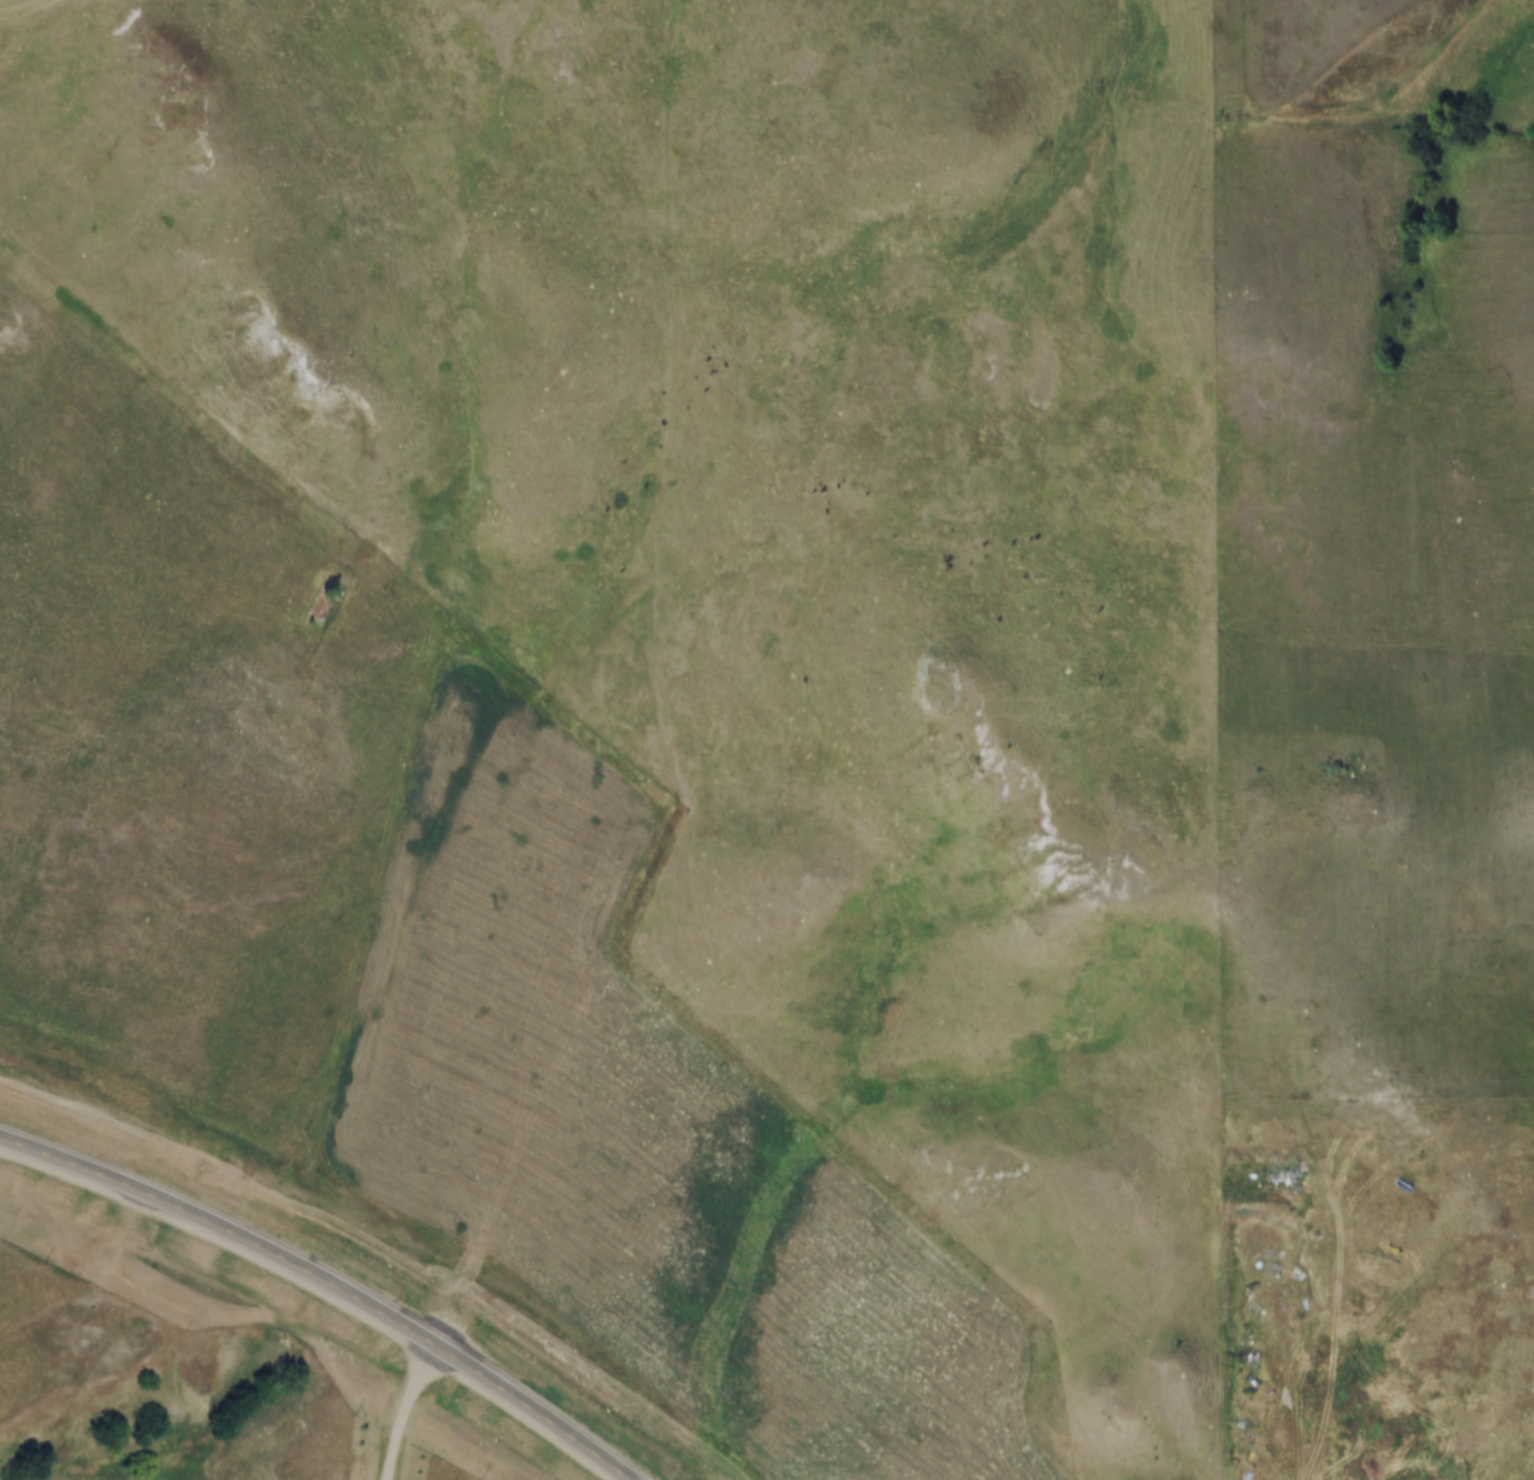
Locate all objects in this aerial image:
road: (36, 11)
road: (163, 554)
road: (657, 559)
road: (1379, 636)
road: (1491, 1200)
road: (330, 1284)
road: (411, 1411)

